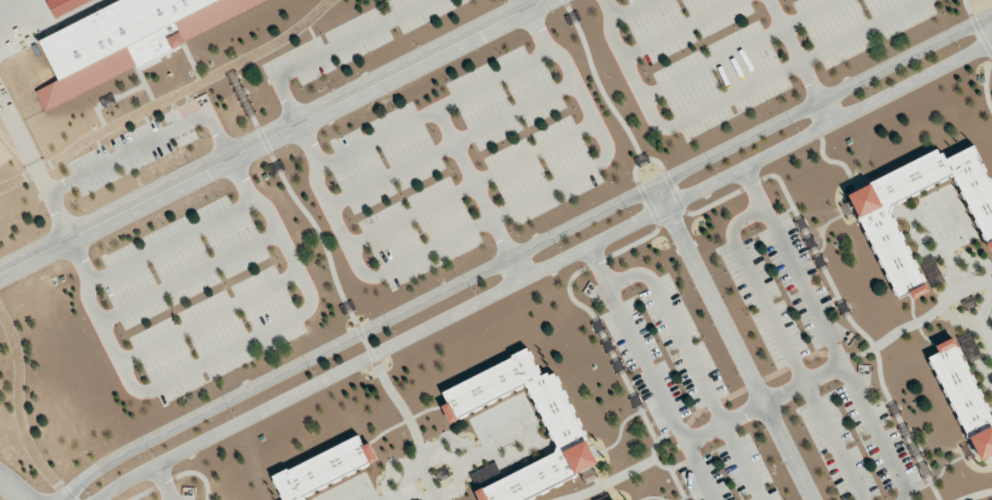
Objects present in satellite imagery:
building: (61, 4)
building: (131, 35)
road: (827, 109)
road: (267, 136)
building: (881, 225)
road: (523, 249)
road: (519, 265)
road: (541, 267)
building: (930, 270)
road: (735, 341)
building: (968, 345)
building: (964, 396)
building: (567, 436)
building: (323, 468)
road: (14, 487)
road: (976, 494)

